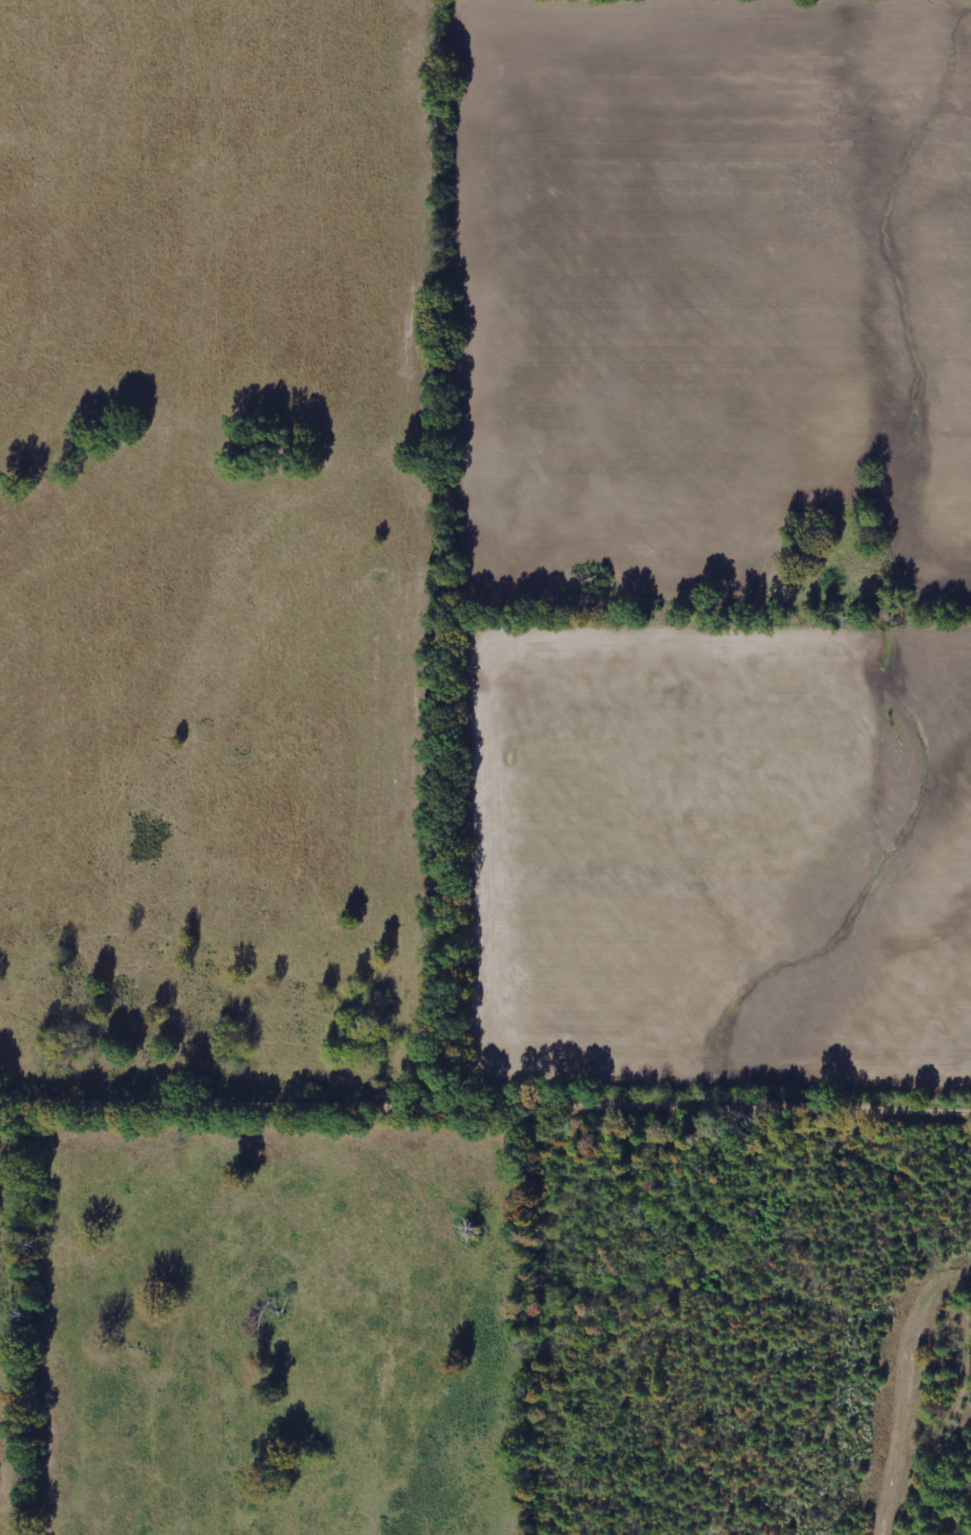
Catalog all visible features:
road: (484, 1111)

